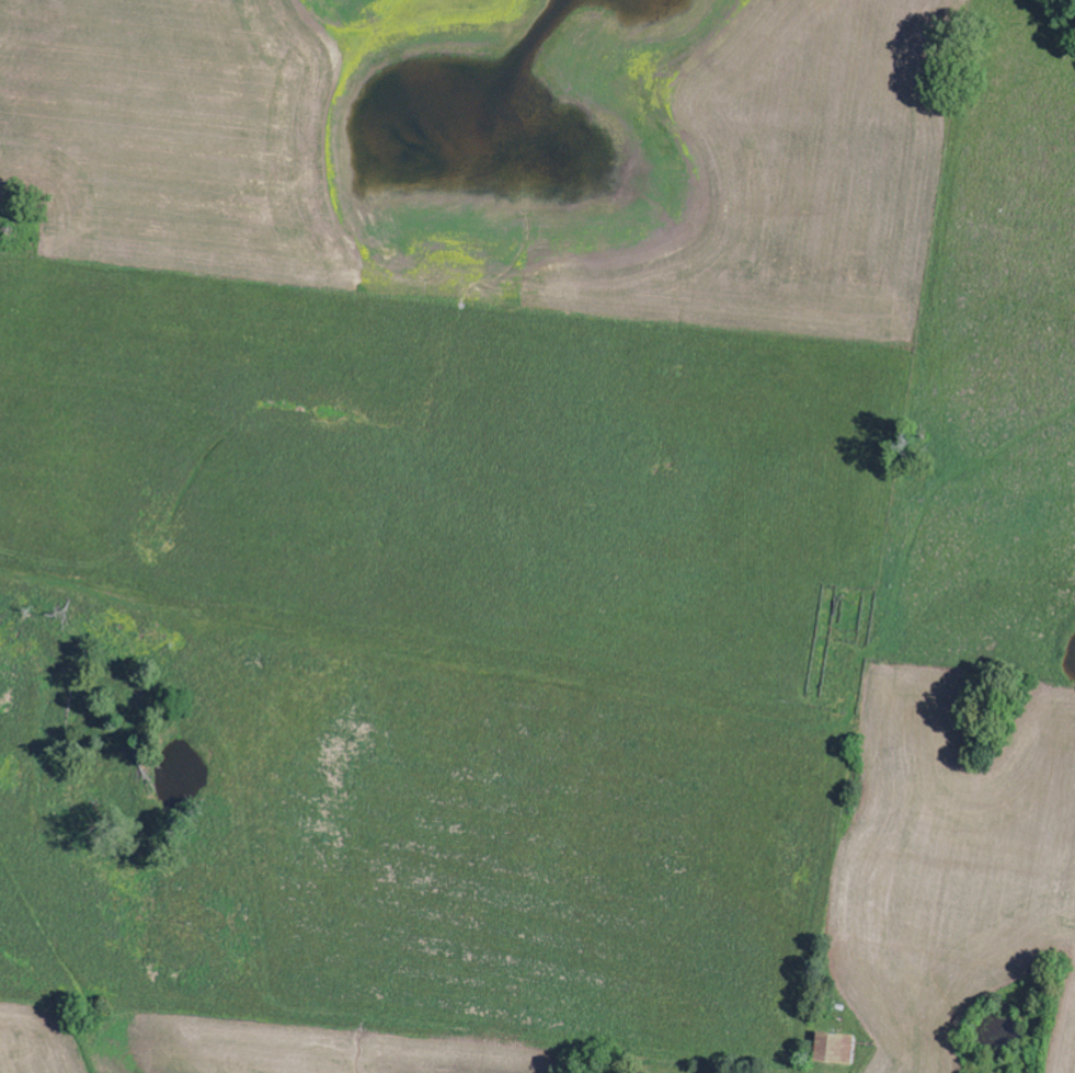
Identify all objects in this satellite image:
building: (837, 1050)

